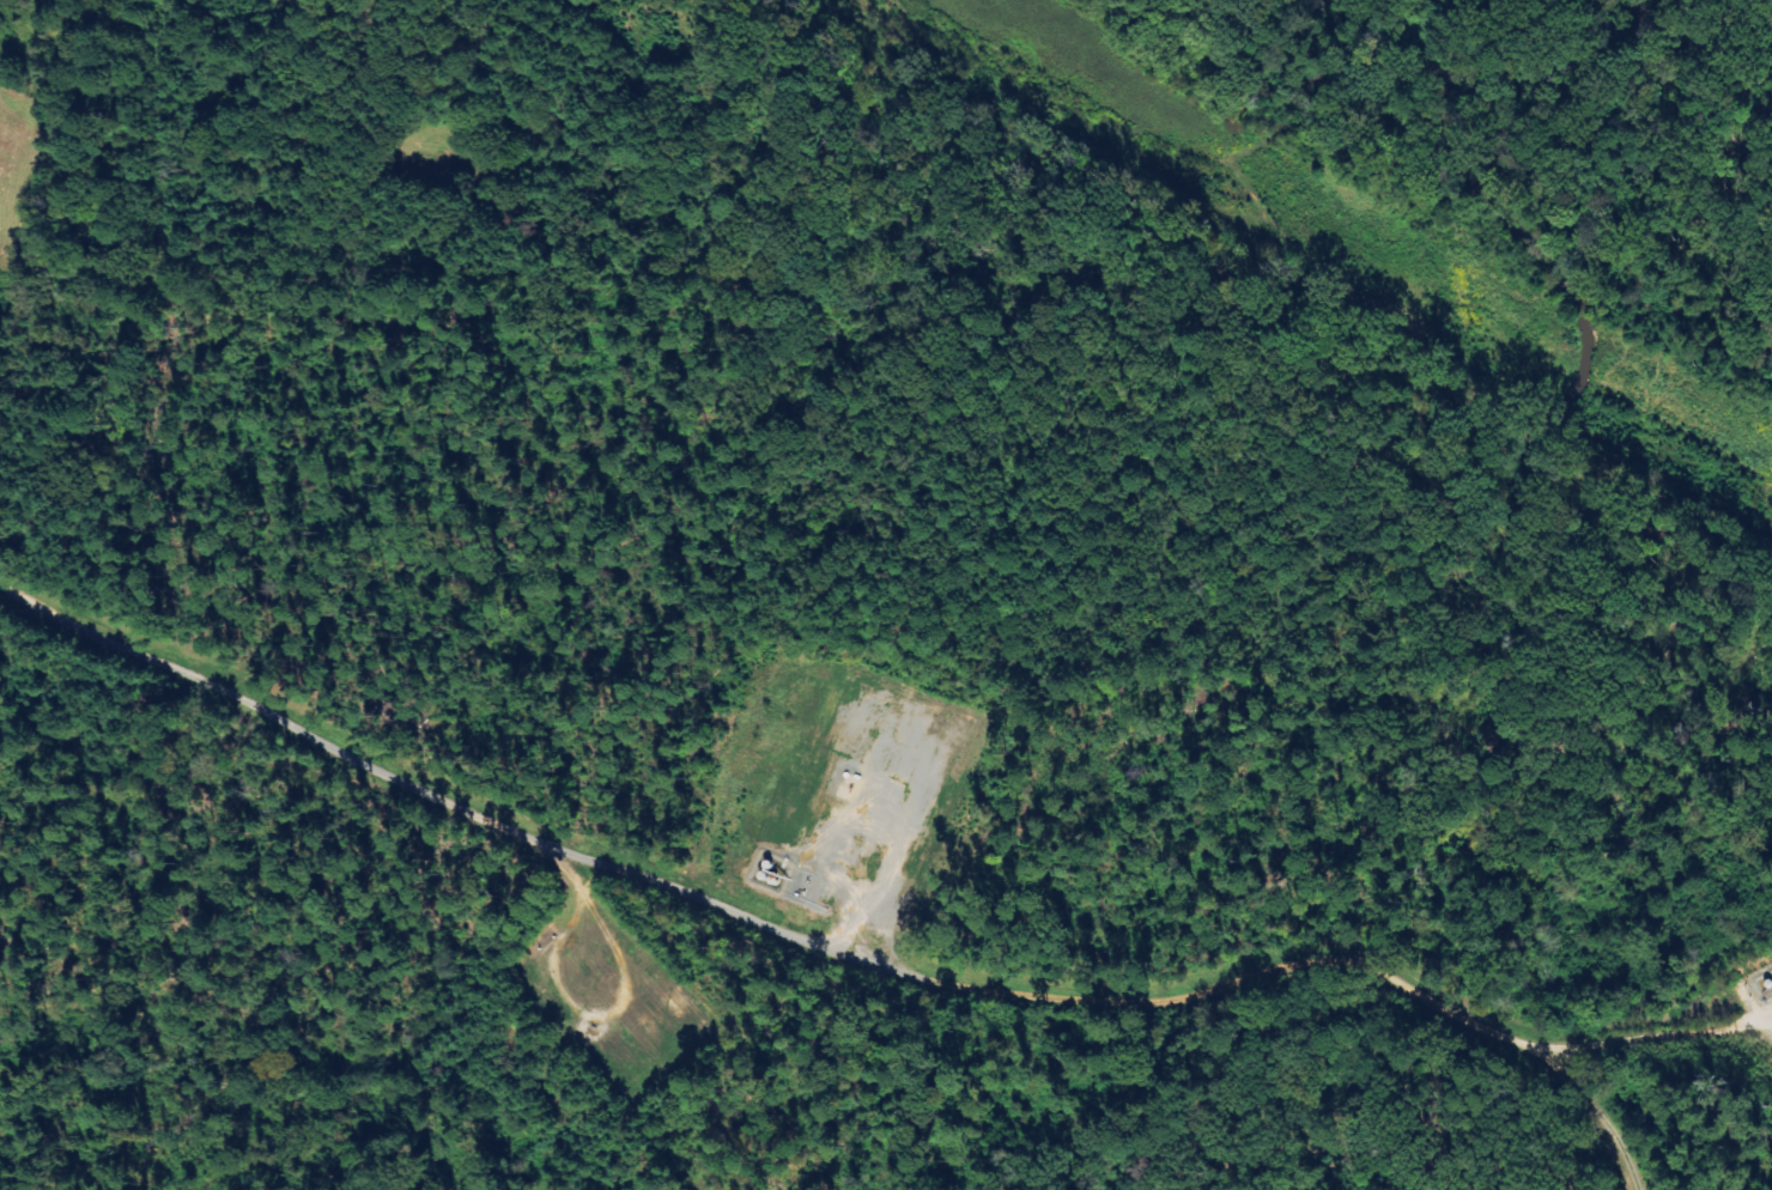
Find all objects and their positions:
road: (861, 959)

